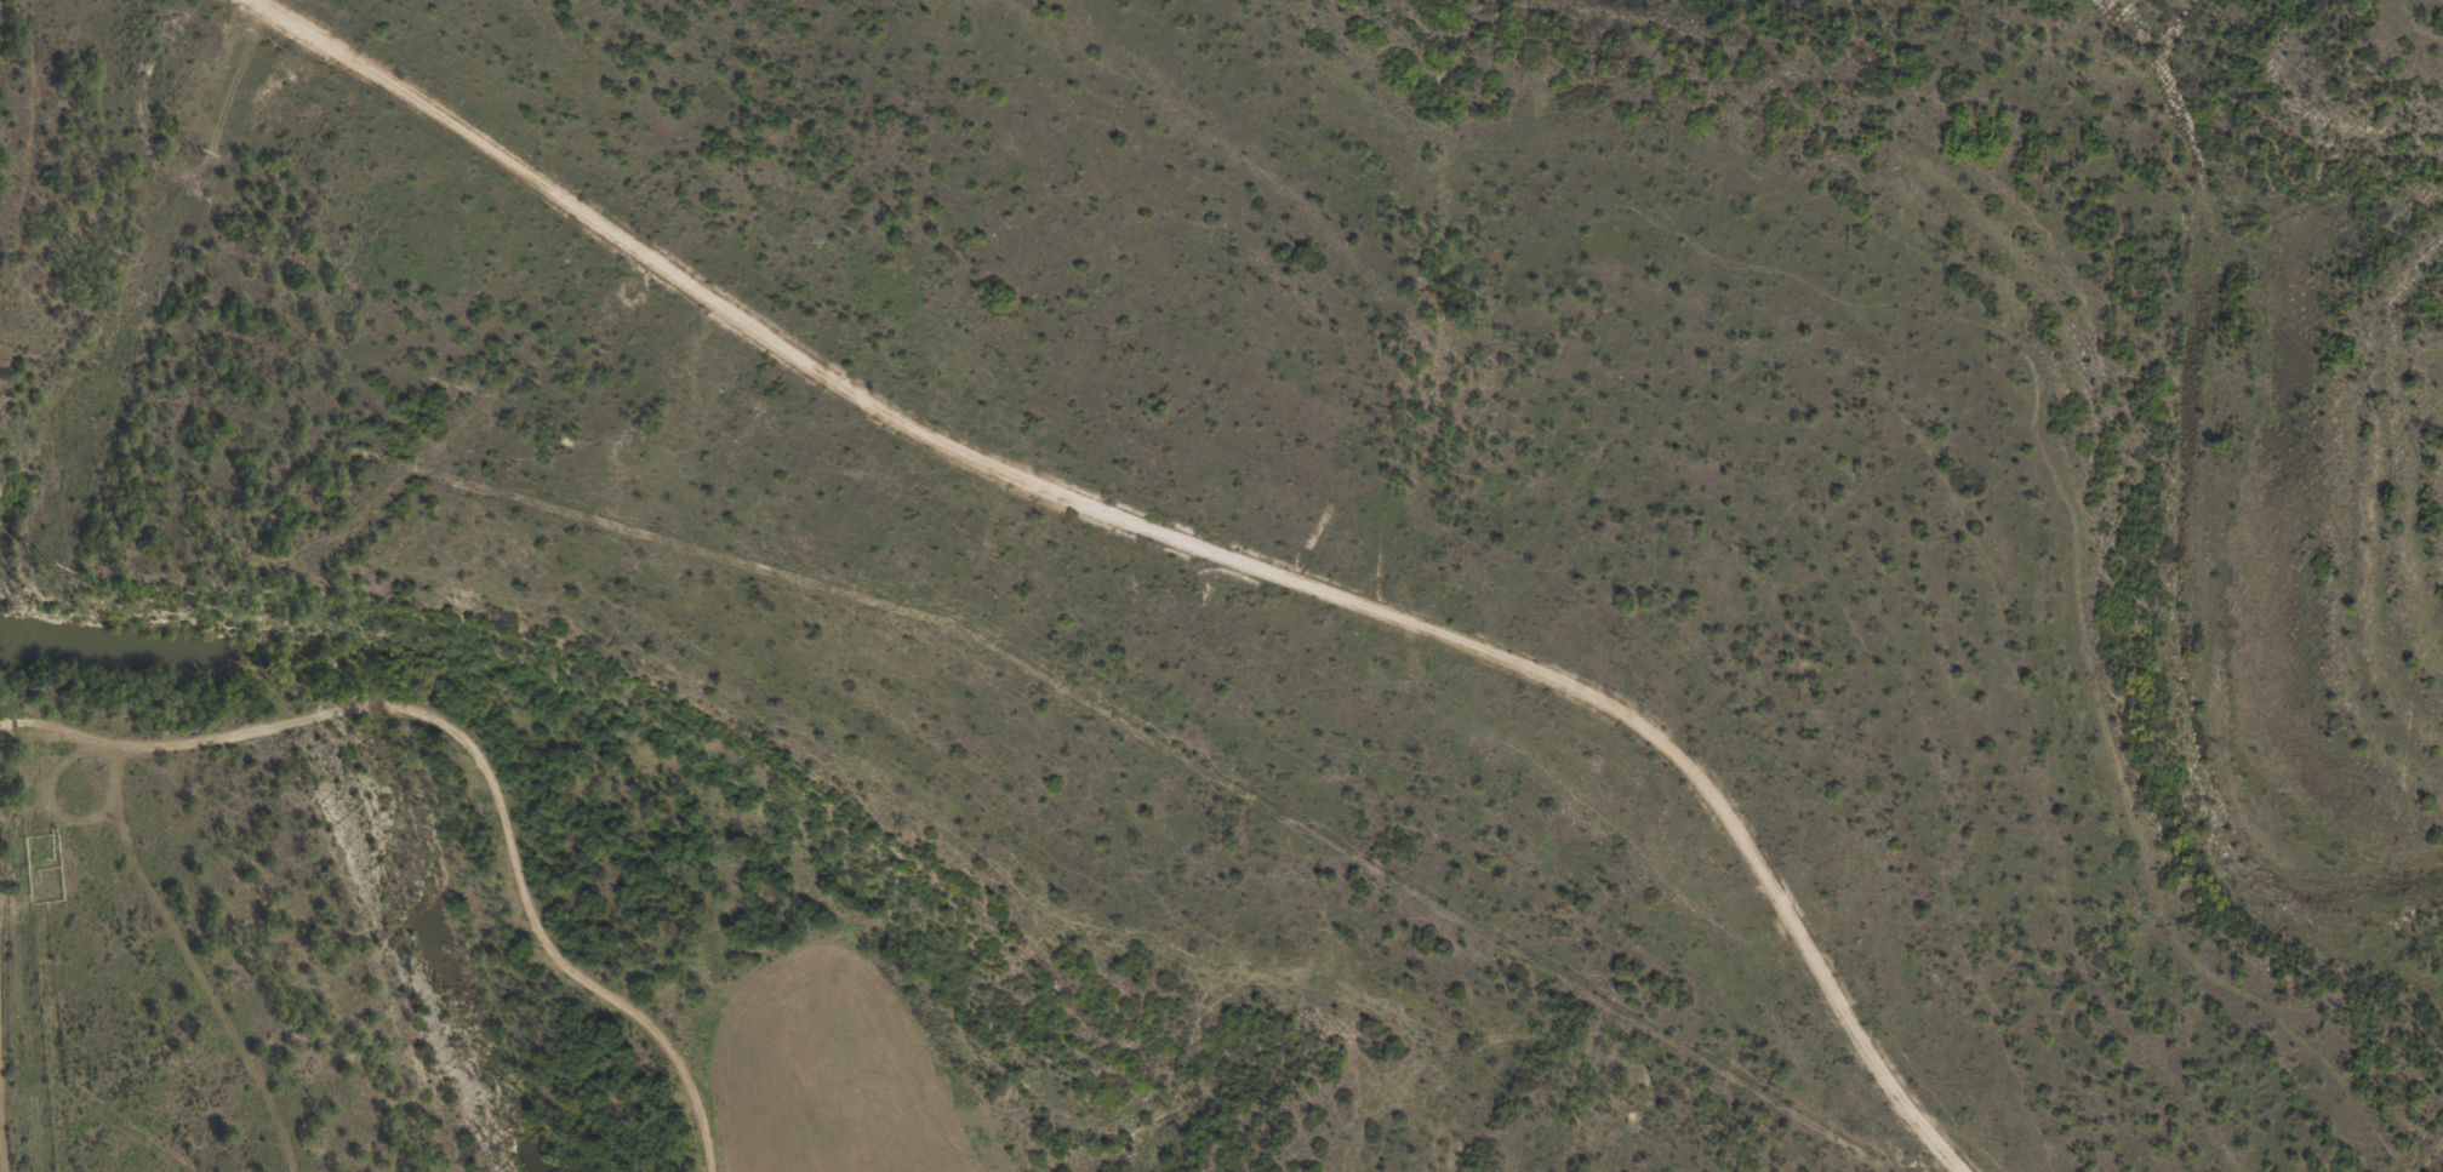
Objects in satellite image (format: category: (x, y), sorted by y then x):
power tower: (193, 151)
road: (1148, 544)
power tower: (47, 567)
road: (500, 861)
road: (137, 863)
road: (262, 1085)

